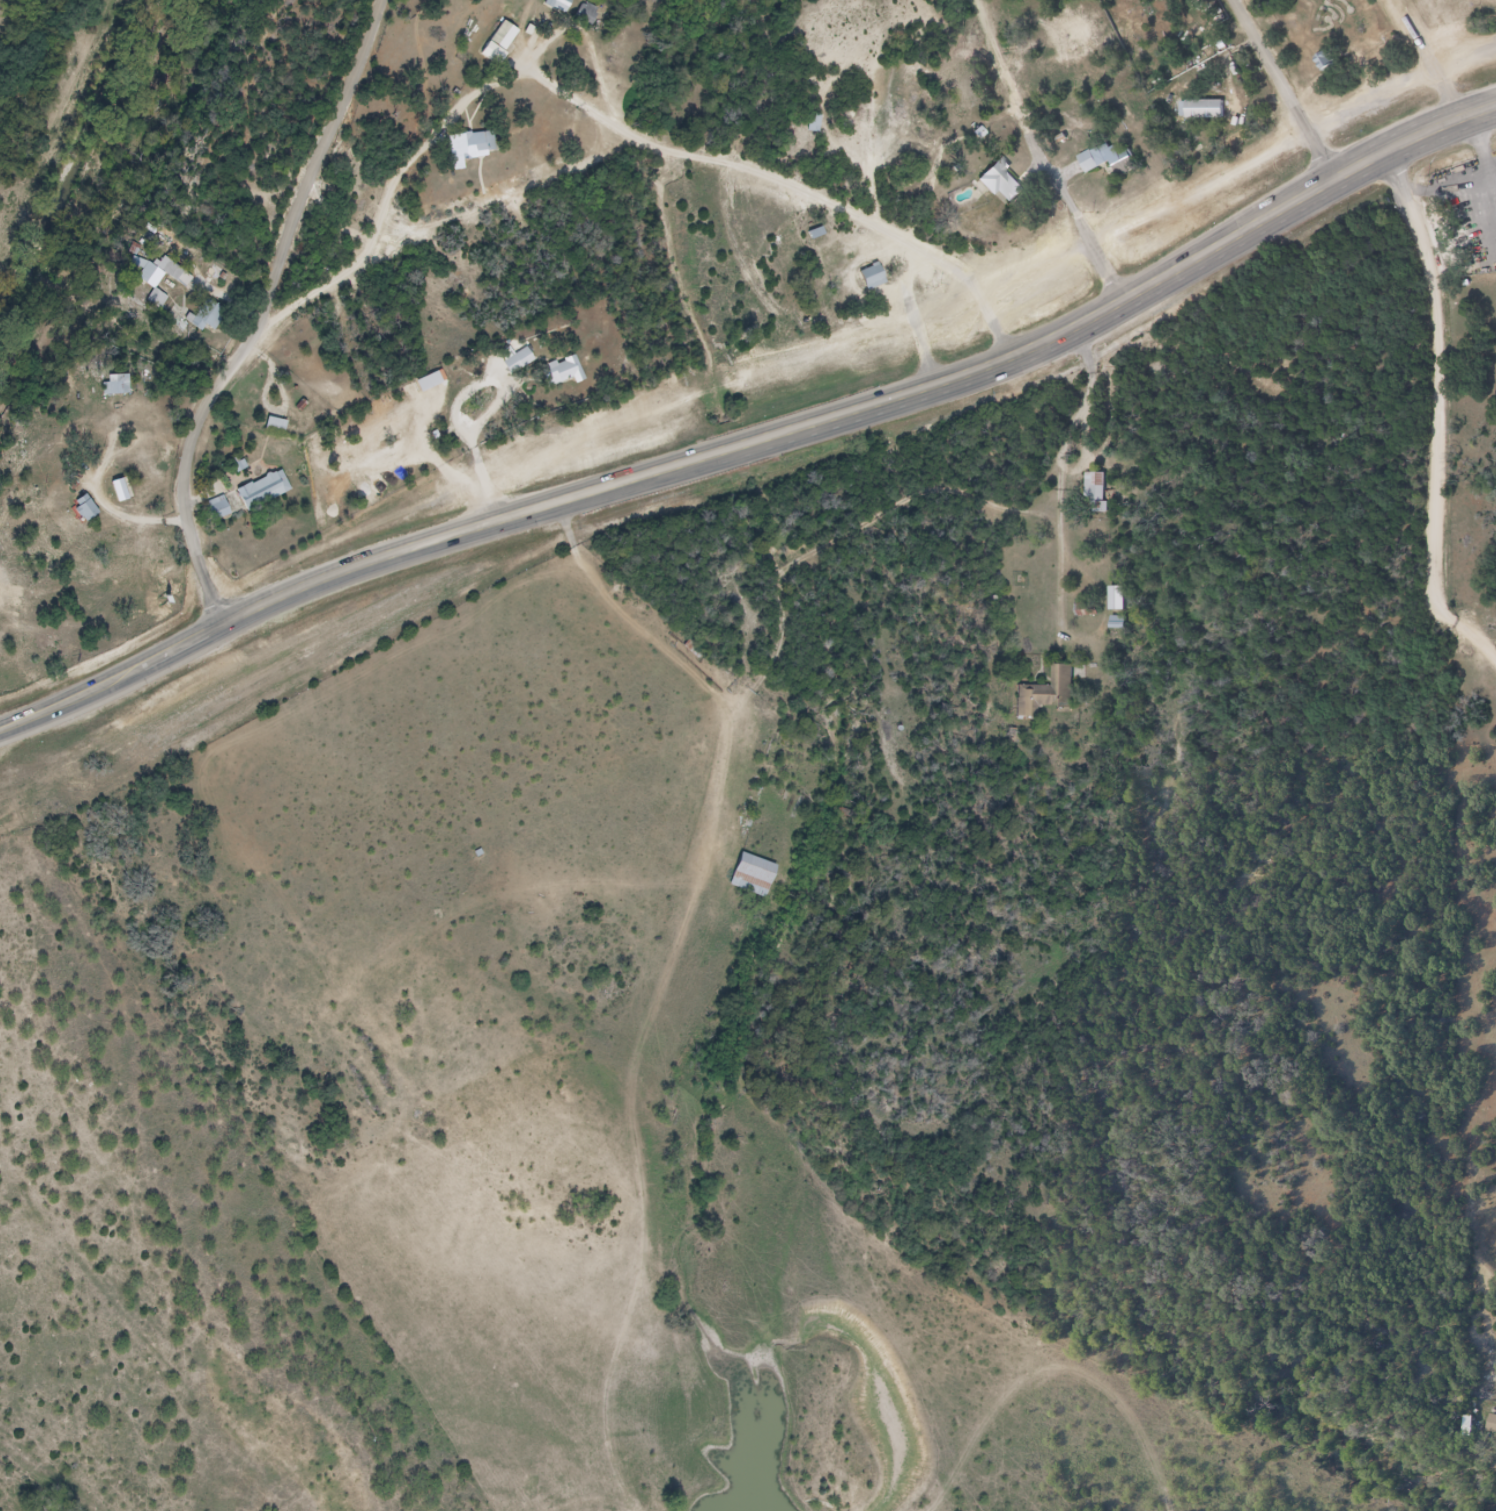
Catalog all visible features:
building: (553, 5)
building: (588, 13)
building: (494, 44)
road: (992, 54)
building: (1323, 61)
road: (1291, 89)
building: (1197, 109)
road: (608, 118)
building: (814, 124)
road: (1417, 139)
building: (477, 153)
building: (1096, 155)
building: (994, 179)
road: (1068, 205)
building: (813, 232)
building: (869, 277)
road: (268, 314)
building: (207, 315)
building: (514, 361)
building: (559, 372)
building: (426, 380)
building: (116, 385)
road: (1445, 407)
building: (271, 424)
road: (676, 468)
building: (259, 489)
building: (361, 492)
building: (1097, 493)
building: (88, 508)
building: (215, 508)
building: (1121, 598)
building: (1044, 697)
building: (755, 875)
building: (1493, 1424)

